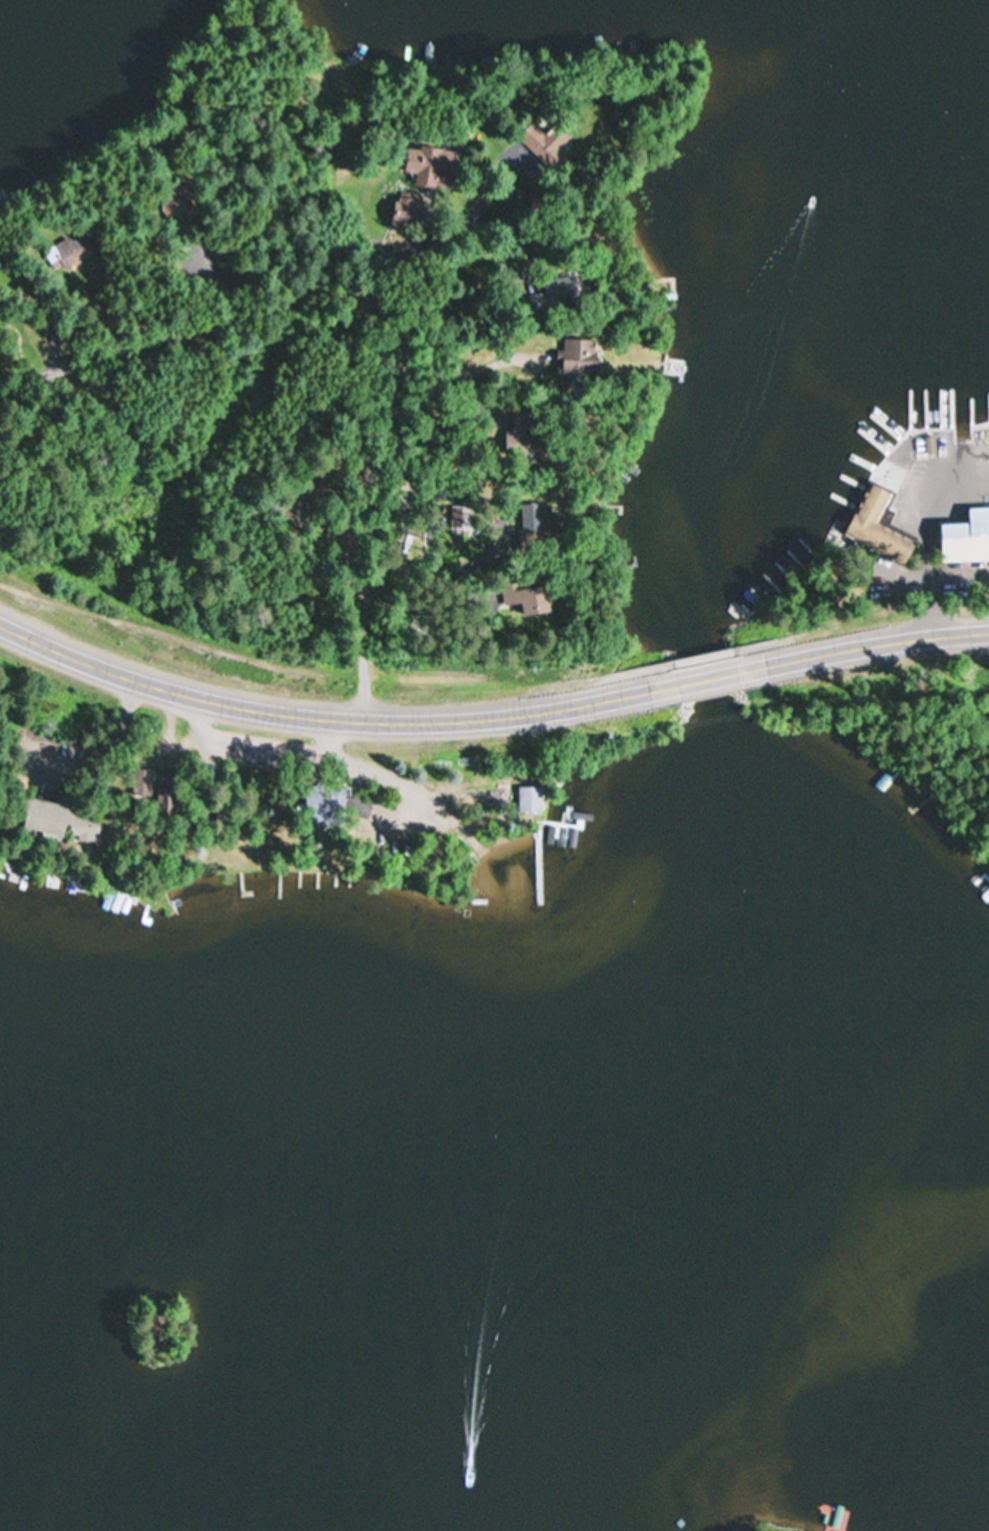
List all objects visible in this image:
building: (439, 52)
building: (548, 143)
building: (433, 167)
building: (177, 206)
building: (406, 216)
building: (69, 251)
building: (562, 289)
road: (388, 324)
river: (752, 342)
building: (579, 350)
building: (523, 434)
building: (295, 511)
building: (535, 519)
building: (878, 527)
building: (966, 538)
building: (526, 597)
road: (876, 644)
road: (708, 680)
road: (317, 721)
building: (142, 783)
building: (530, 798)
building: (166, 800)
building: (59, 821)
river: (586, 1135)

